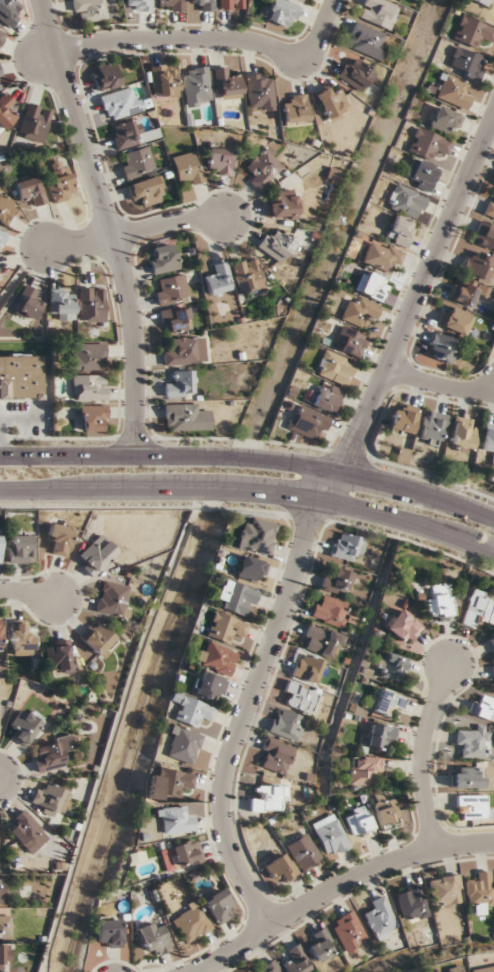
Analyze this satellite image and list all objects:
building: (402, 0)
building: (482, 1)
building: (139, 5)
building: (171, 5)
building: (205, 5)
building: (232, 5)
building: (89, 9)
building: (9, 11)
building: (283, 12)
building: (378, 12)
building: (472, 32)
building: (2, 33)
road: (213, 39)
building: (366, 40)
building: (466, 62)
building: (355, 74)
building: (106, 75)
building: (1, 81)
building: (164, 81)
building: (227, 84)
building: (196, 86)
building: (260, 92)
building: (452, 92)
building: (121, 103)
building: (332, 103)
building: (295, 110)
building: (6, 111)
building: (445, 121)
building: (34, 123)
building: (132, 134)
building: (428, 144)
building: (220, 161)
building: (136, 162)
building: (187, 168)
building: (263, 168)
building: (424, 175)
building: (60, 182)
building: (31, 190)
building: (147, 190)
building: (406, 201)
building: (283, 205)
building: (6, 209)
building: (489, 210)
road: (109, 224)
road: (136, 230)
building: (400, 231)
building: (1, 237)
building: (276, 244)
building: (481, 255)
building: (382, 256)
building: (163, 258)
building: (248, 276)
building: (219, 278)
building: (373, 286)
building: (171, 290)
building: (470, 292)
road: (418, 296)
building: (27, 303)
building: (62, 303)
building: (91, 304)
building: (359, 312)
building: (454, 319)
building: (176, 320)
building: (351, 342)
building: (441, 348)
building: (185, 351)
building: (87, 356)
building: (335, 367)
building: (21, 376)
road: (439, 383)
building: (180, 384)
building: (88, 387)
building: (327, 398)
building: (185, 417)
building: (92, 418)
building: (404, 420)
building: (309, 423)
building: (432, 427)
building: (462, 432)
building: (488, 439)
road: (251, 440)
road: (251, 459)
road: (251, 491)
road: (251, 511)
building: (59, 537)
building: (257, 537)
building: (0, 547)
building: (346, 547)
building: (19, 548)
building: (96, 555)
building: (251, 569)
building: (337, 581)
road: (28, 592)
building: (235, 597)
building: (113, 599)
building: (441, 602)
building: (479, 609)
building: (329, 610)
building: (402, 626)
building: (224, 627)
building: (0, 634)
building: (19, 638)
building: (98, 639)
building: (321, 642)
building: (492, 642)
building: (56, 655)
building: (214, 658)
building: (391, 666)
building: (306, 667)
building: (493, 672)
building: (206, 686)
road: (249, 697)
building: (300, 697)
building: (387, 701)
building: (484, 707)
building: (191, 711)
building: (26, 725)
building: (286, 725)
building: (380, 736)
building: (472, 742)
building: (181, 745)
building: (53, 753)
building: (275, 755)
road: (421, 755)
building: (363, 769)
building: (467, 777)
building: (168, 784)
building: (267, 797)
building: (52, 798)
building: (472, 806)
building: (387, 811)
building: (173, 820)
building: (360, 823)
building: (26, 832)
building: (330, 836)
building: (184, 852)
building: (303, 852)
building: (279, 867)
road: (337, 888)
building: (445, 890)
building: (1, 891)
building: (481, 891)
building: (412, 902)
building: (219, 907)
building: (380, 918)
building: (190, 922)
building: (5, 925)
building: (349, 931)
building: (108, 933)
building: (152, 938)
building: (322, 946)
building: (4, 957)
building: (297, 960)
building: (269, 967)
building: (454, 969)
building: (483, 969)

